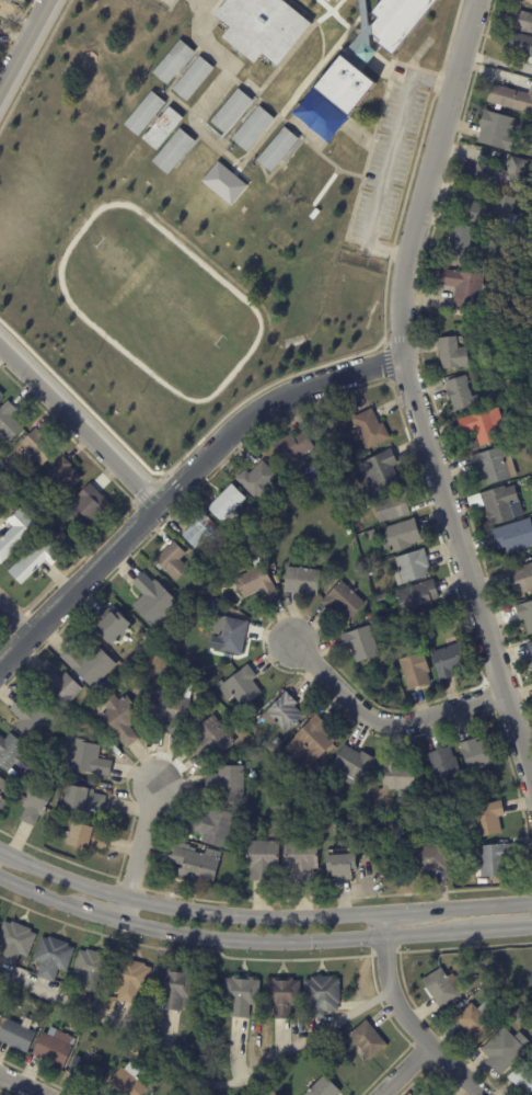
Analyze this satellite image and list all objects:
building: (8, 1)
building: (325, 1)
parking lot: (163, 2)
building: (394, 21)
building: (520, 21)
building: (259, 28)
building: (517, 44)
road: (24, 46)
building: (172, 62)
road: (223, 73)
building: (193, 79)
building: (343, 88)
building: (510, 99)
building: (231, 111)
building: (143, 114)
building: (162, 128)
building: (253, 129)
building: (497, 132)
building: (277, 149)
building: (173, 151)
road: (388, 159)
building: (299, 168)
parking lot: (385, 169)
building: (501, 173)
building: (258, 209)
building: (489, 212)
building: (314, 214)
building: (460, 240)
building: (497, 276)
building: (465, 290)
building: (452, 354)
building: (477, 361)
building: (489, 375)
building: (459, 393)
building: (0, 396)
road: (412, 397)
building: (8, 422)
road: (79, 424)
building: (482, 424)
building: (369, 431)
building: (15, 438)
building: (37, 448)
building: (293, 449)
building: (494, 466)
building: (279, 468)
building: (340, 471)
building: (379, 471)
building: (62, 477)
road: (181, 481)
building: (261, 484)
building: (2, 498)
building: (225, 503)
building: (89, 505)
building: (501, 505)
building: (392, 509)
building: (201, 533)
building: (348, 533)
building: (15, 535)
building: (61, 537)
building: (401, 537)
building: (513, 537)
building: (245, 539)
building: (259, 541)
building: (267, 556)
building: (35, 560)
building: (172, 562)
building: (410, 569)
building: (255, 581)
building: (520, 581)
building: (301, 582)
building: (204, 593)
building: (416, 598)
building: (382, 600)
building: (152, 602)
building: (343, 602)
building: (210, 608)
building: (370, 616)
building: (525, 616)
road: (14, 620)
building: (375, 626)
building: (112, 627)
building: (431, 627)
building: (231, 637)
building: (144, 639)
building: (360, 645)
building: (530, 649)
building: (448, 662)
building: (89, 665)
building: (414, 672)
building: (240, 688)
building: (58, 689)
building: (169, 714)
building: (282, 715)
building: (236, 716)
building: (31, 720)
building: (120, 720)
road: (385, 722)
building: (210, 740)
building: (311, 743)
building: (274, 746)
building: (10, 753)
building: (476, 755)
building: (83, 760)
building: (352, 765)
building: (444, 767)
building: (304, 777)
building: (398, 778)
building: (225, 785)
building: (2, 786)
building: (83, 800)
building: (2, 806)
building: (34, 806)
building: (358, 811)
building: (486, 821)
building: (212, 829)
building: (86, 839)
road: (137, 853)
building: (429, 859)
building: (262, 862)
building: (300, 862)
building: (493, 862)
building: (194, 865)
building: (340, 866)
road: (36, 893)
road: (476, 905)
road: (186, 910)
road: (402, 911)
road: (96, 914)
road: (494, 928)
road: (287, 942)
building: (14, 943)
building: (51, 957)
building: (91, 970)
building: (129, 979)
building: (70, 984)
building: (442, 988)
building: (173, 990)
building: (241, 995)
building: (321, 995)
building: (281, 996)
building: (458, 1007)
road: (402, 1015)
building: (522, 1019)
building: (38, 1022)
building: (476, 1022)
building: (91, 1029)
building: (15, 1036)
building: (115, 1039)
building: (332, 1039)
building: (368, 1040)
building: (530, 1042)
building: (53, 1047)
building: (499, 1052)
building: (84, 1070)
road: (406, 1071)
building: (160, 1074)
road: (194, 1077)
building: (522, 1079)
road: (22, 1084)
building: (126, 1084)
building: (323, 1087)
building: (420, 1094)

